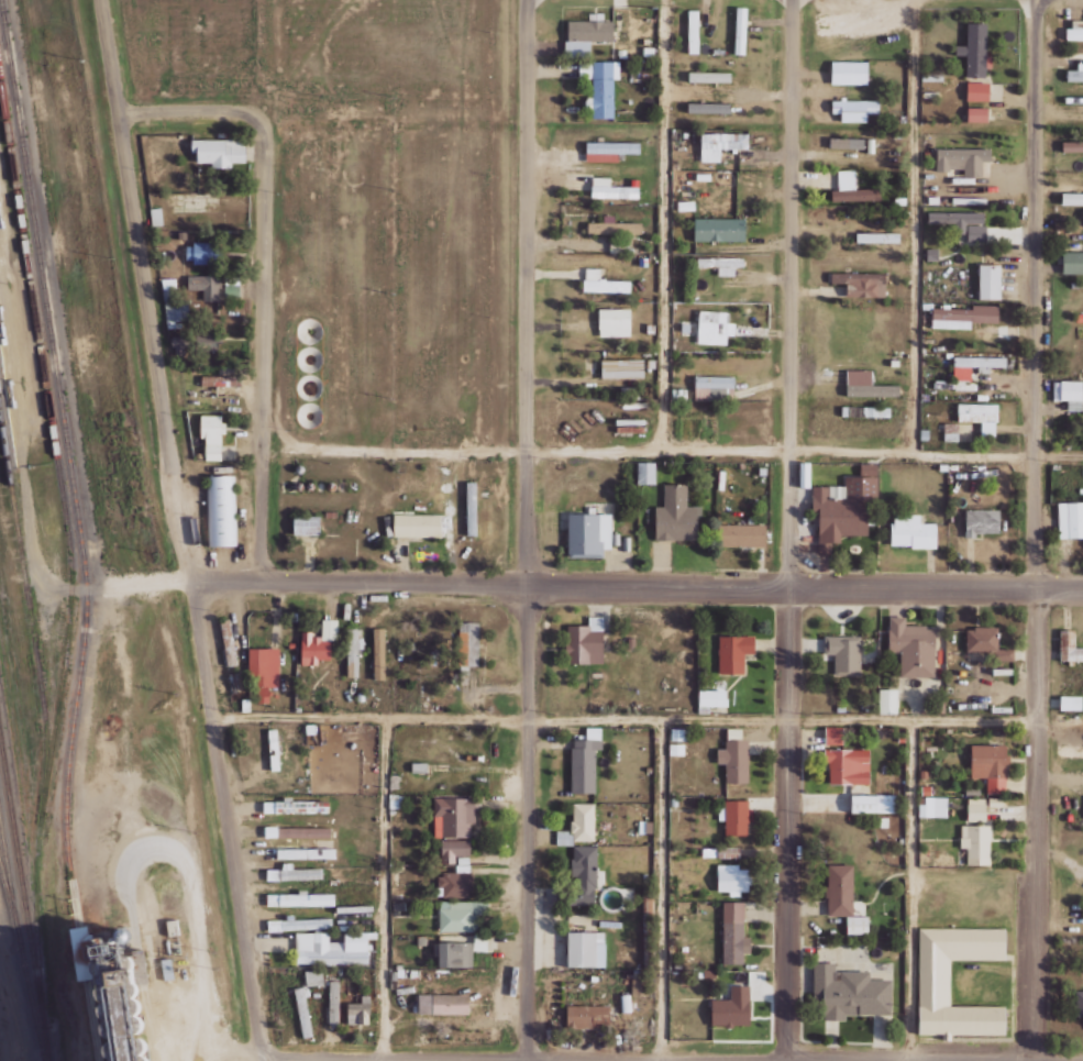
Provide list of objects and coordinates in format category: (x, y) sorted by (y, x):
building: (740, 30)
building: (1075, 30)
building: (586, 35)
building: (975, 49)
building: (849, 73)
building: (1075, 73)
building: (709, 76)
building: (599, 87)
building: (977, 91)
building: (709, 107)
building: (854, 109)
building: (977, 113)
road: (192, 114)
building: (721, 143)
building: (847, 143)
building: (1072, 146)
building: (609, 150)
building: (219, 151)
building: (963, 159)
building: (852, 188)
building: (611, 189)
building: (1072, 198)
building: (969, 199)
building: (156, 215)
building: (962, 222)
building: (614, 226)
road: (1035, 228)
building: (719, 229)
building: (877, 236)
building: (200, 252)
building: (1073, 262)
building: (721, 264)
building: (990, 280)
building: (601, 281)
building: (862, 283)
building: (205, 286)
road: (526, 291)
road: (787, 292)
building: (174, 301)
building: (963, 316)
building: (615, 319)
building: (714, 327)
building: (194, 342)
road: (269, 343)
building: (974, 364)
building: (622, 368)
building: (221, 379)
building: (867, 385)
building: (1068, 390)
building: (679, 394)
building: (980, 416)
building: (951, 431)
railway: (51, 435)
building: (211, 435)
building: (645, 472)
building: (805, 474)
building: (471, 507)
building: (844, 507)
building: (221, 509)
building: (676, 515)
building: (1070, 519)
building: (981, 521)
building: (306, 523)
building: (417, 524)
road: (181, 530)
building: (913, 531)
building: (589, 534)
building: (742, 534)
railway: (77, 535)
road: (636, 584)
building: (586, 641)
building: (319, 642)
building: (986, 642)
building: (1070, 645)
building: (913, 646)
building: (467, 648)
building: (353, 650)
building: (734, 652)
building: (379, 653)
building: (844, 653)
building: (264, 668)
building: (706, 700)
building: (887, 700)
building: (1070, 701)
railway: (43, 731)
building: (679, 733)
building: (833, 734)
building: (676, 749)
road: (1035, 758)
building: (585, 760)
building: (734, 760)
building: (848, 765)
building: (990, 765)
building: (874, 803)
building: (295, 806)
building: (933, 806)
building: (976, 808)
building: (455, 815)
road: (529, 822)
road: (787, 824)
building: (578, 825)
building: (298, 831)
building: (975, 839)
building: (454, 849)
building: (306, 852)
building: (295, 872)
building: (584, 874)
building: (457, 880)
building: (733, 880)
building: (843, 896)
building: (301, 898)
railway: (9, 904)
railway: (23, 907)
building: (462, 915)
building: (734, 932)
building: (480, 941)
building: (331, 948)
building: (586, 948)
railway: (19, 950)
building: (455, 953)
building: (313, 976)
building: (935, 982)
building: (108, 987)
building: (849, 992)
building: (1080, 1001)
building: (334, 1003)
building: (443, 1003)
building: (732, 1007)
building: (302, 1010)
building: (360, 1010)
building: (587, 1016)
road: (672, 1059)

